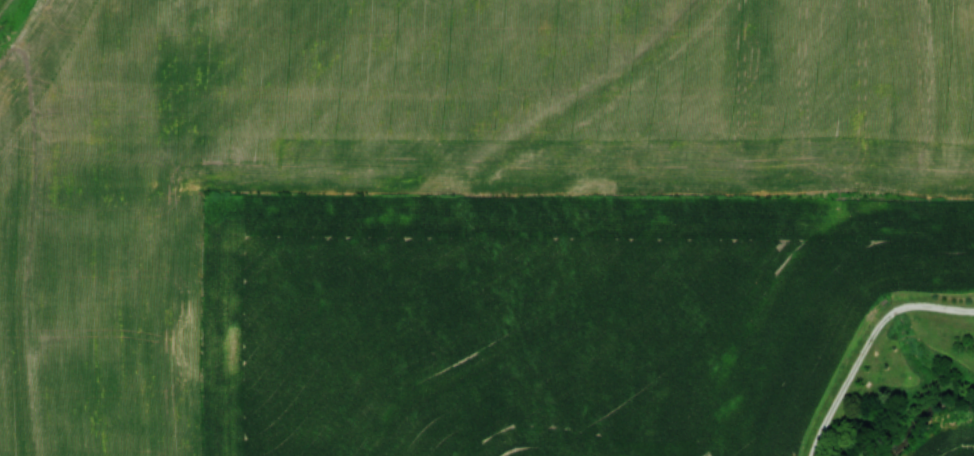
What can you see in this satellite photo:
road: (872, 349)

